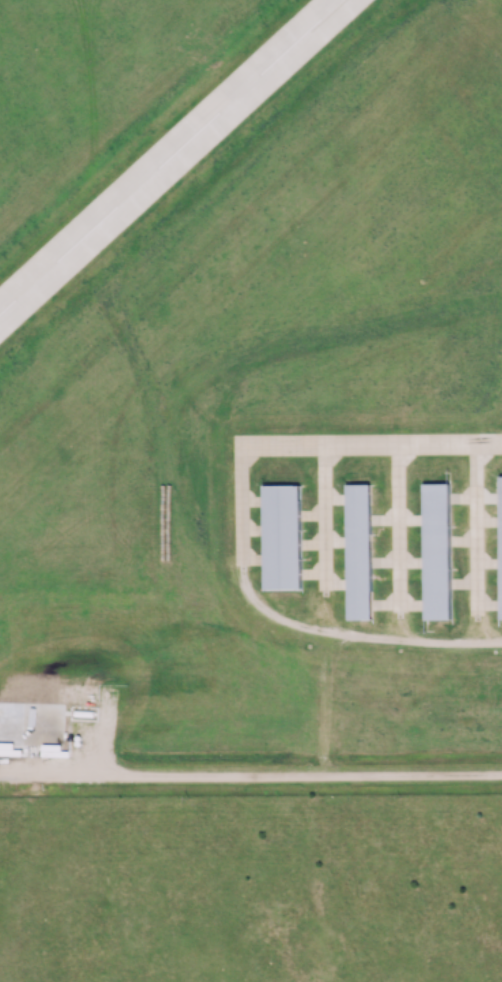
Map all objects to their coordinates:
airport runway: (172, 158)
airport: (251, 378)
airport taxiway: (312, 446)
airport taxiway: (326, 518)
airport taxiway: (401, 528)
airport taxiway: (478, 530)
building: (285, 538)
building: (501, 543)
building: (361, 552)
building: (439, 552)
road: (358, 634)
road: (251, 775)

